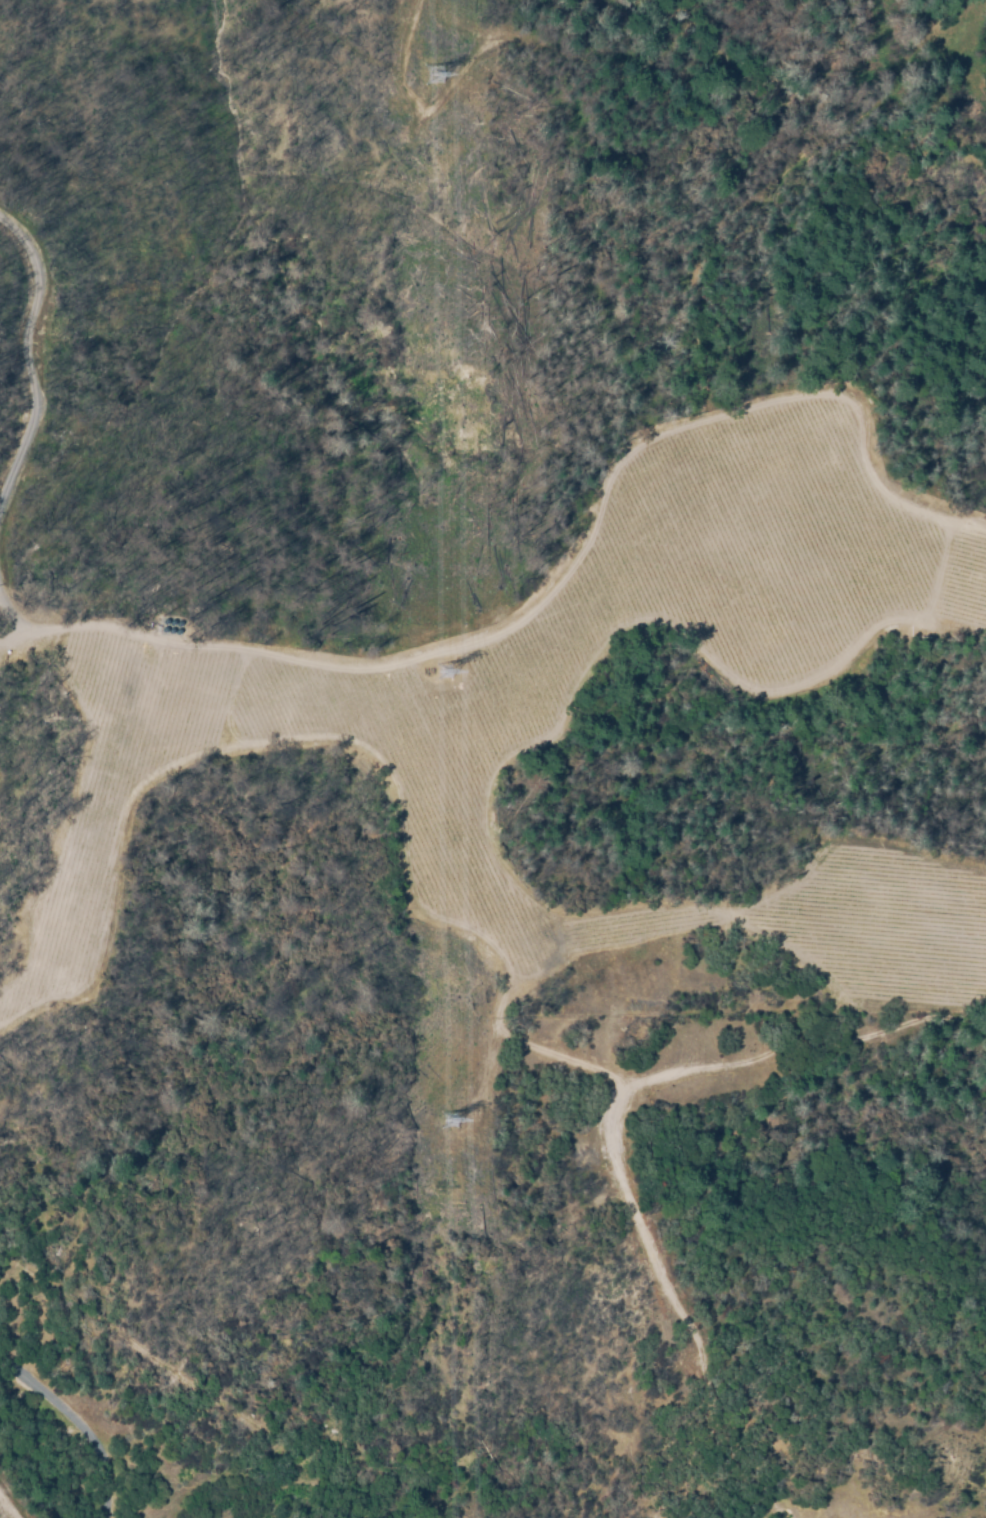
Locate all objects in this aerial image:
power tower: (432, 75)
power tower: (442, 672)
power tower: (453, 1124)

